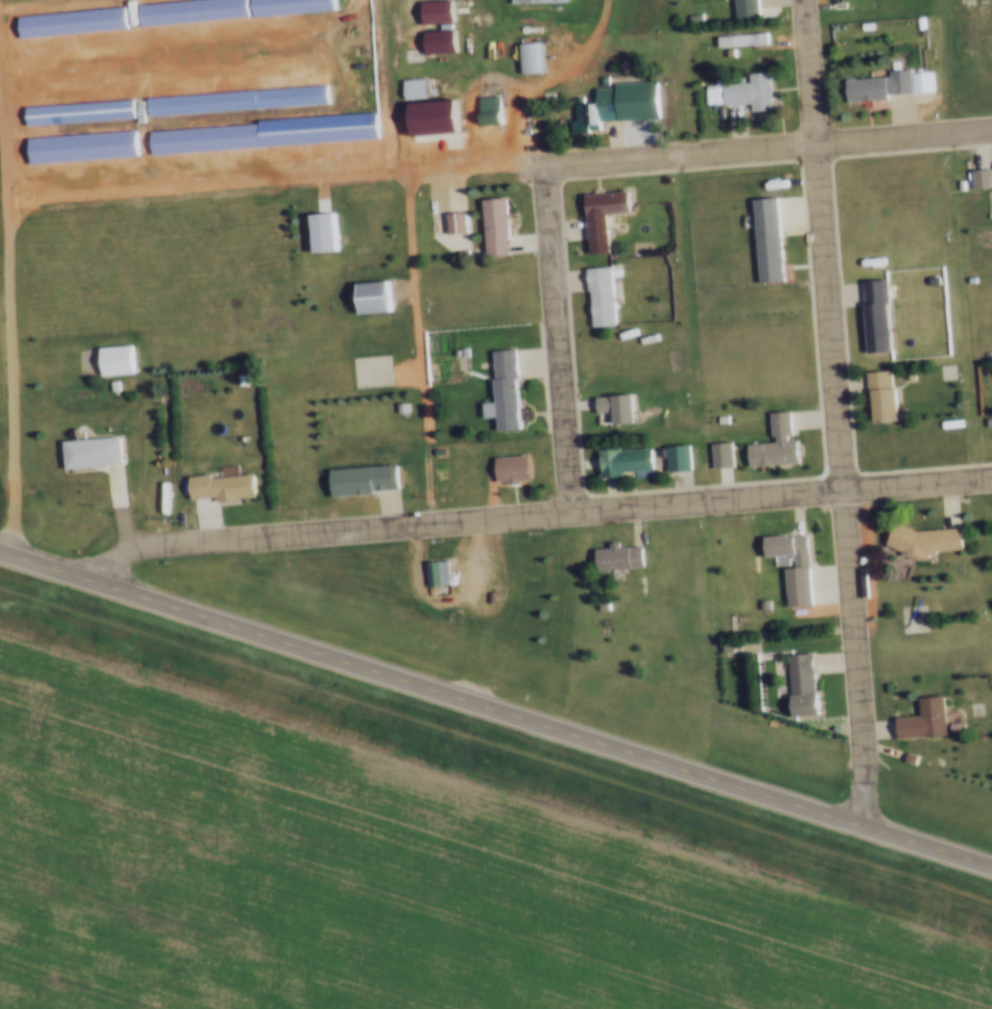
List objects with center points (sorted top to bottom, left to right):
building: (534, 2)
building: (286, 7)
building: (742, 10)
building: (186, 12)
building: (432, 12)
building: (68, 23)
building: (915, 23)
building: (861, 27)
building: (738, 42)
building: (435, 43)
building: (413, 55)
building: (528, 60)
building: (599, 80)
road: (541, 86)
building: (883, 86)
building: (411, 89)
building: (747, 94)
building: (711, 97)
building: (232, 102)
building: (485, 110)
building: (76, 113)
building: (590, 116)
building: (430, 119)
building: (265, 134)
building: (78, 148)
road: (768, 150)
building: (977, 180)
building: (598, 217)
building: (452, 224)
building: (491, 228)
building: (321, 235)
building: (763, 242)
building: (966, 280)
building: (929, 281)
building: (597, 297)
building: (370, 298)
building: (873, 317)
road: (12, 321)
road: (558, 340)
building: (455, 352)
building: (113, 362)
park: (365, 370)
park: (940, 371)
building: (988, 371)
building: (904, 376)
building: (237, 381)
building: (108, 386)
building: (501, 392)
building: (877, 396)
building: (398, 409)
building: (614, 410)
road: (838, 414)
building: (717, 420)
building: (986, 422)
building: (239, 441)
building: (772, 445)
building: (435, 453)
building: (90, 454)
building: (718, 457)
building: (672, 458)
building: (622, 464)
building: (507, 469)
building: (359, 482)
building: (220, 486)
road: (536, 514)
building: (920, 541)
building: (615, 558)
building: (434, 573)
building: (791, 586)
building: (759, 603)
building: (795, 683)
road: (495, 711)
building: (916, 717)
building: (948, 724)
building: (900, 753)

